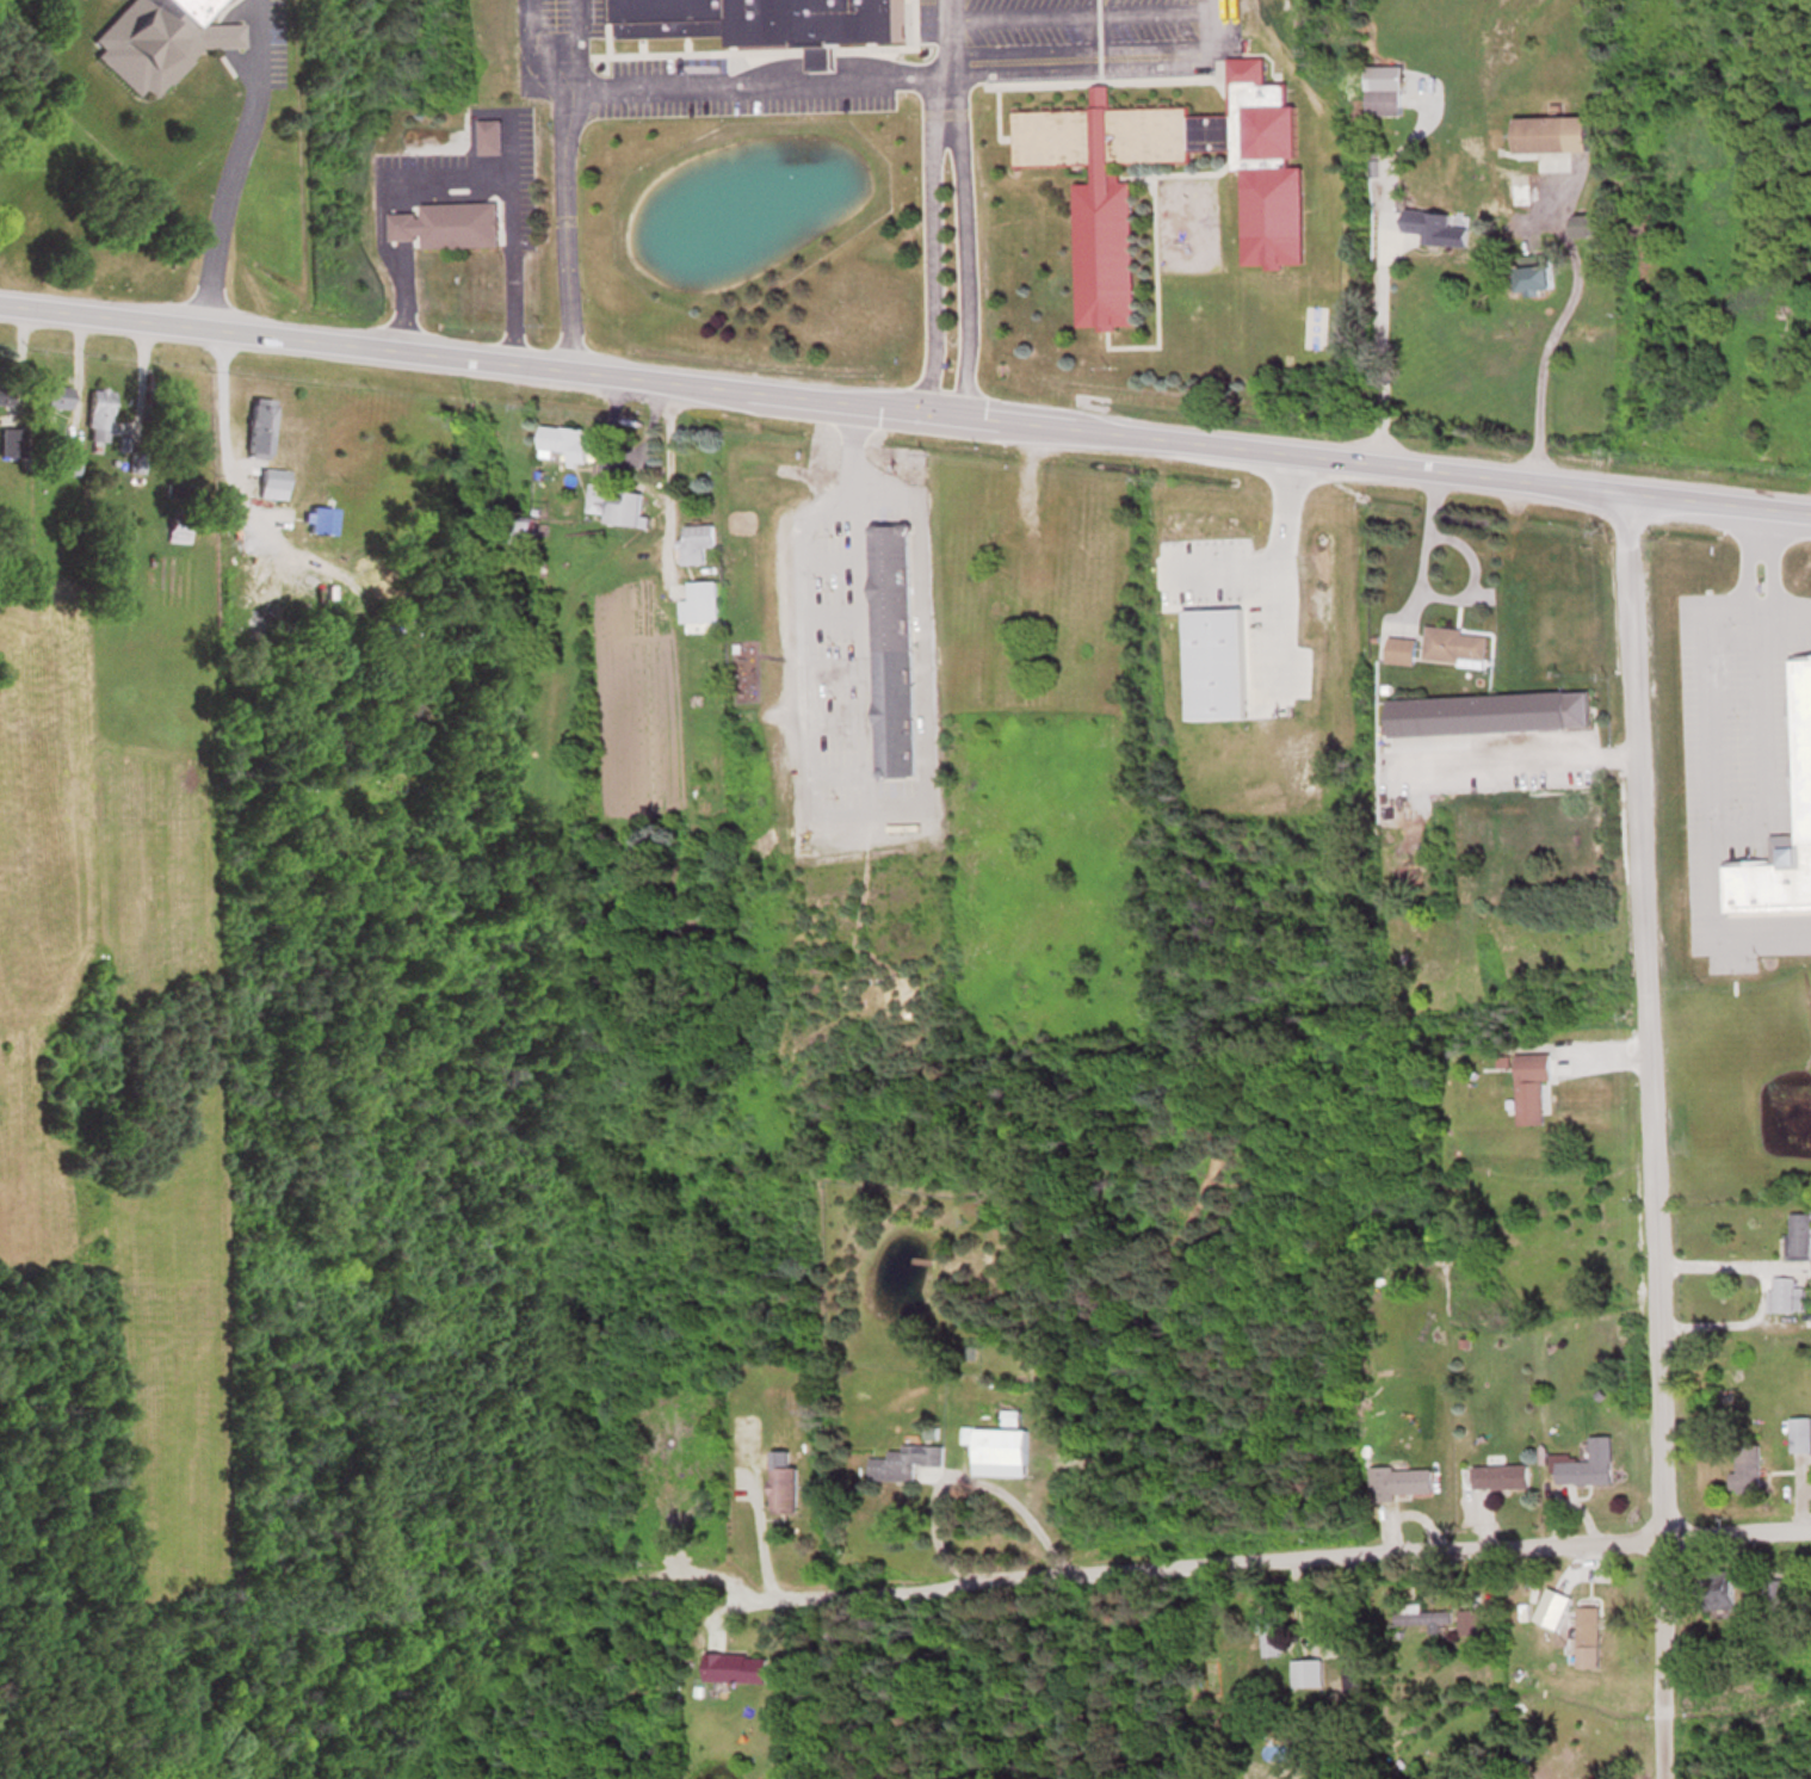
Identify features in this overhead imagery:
building: (767, 20)
building: (154, 39)
road: (1110, 57)
road: (944, 74)
road: (650, 81)
road: (552, 82)
building: (1380, 89)
building: (488, 136)
road: (236, 163)
road: (450, 175)
building: (1271, 223)
building: (446, 224)
building: (1424, 224)
building: (1583, 224)
building: (1532, 278)
road: (1380, 351)
road: (1541, 363)
building: (2, 394)
building: (52, 396)
road: (905, 408)
building: (95, 414)
building: (254, 425)
road: (218, 428)
building: (563, 440)
building: (264, 482)
road: (669, 486)
building: (616, 504)
building: (1050, 517)
building: (315, 519)
building: (736, 521)
building: (517, 530)
building: (1005, 539)
building: (694, 542)
road: (1417, 550)
road: (1274, 573)
road: (1465, 580)
road: (1745, 594)
building: (701, 600)
building: (1452, 645)
building: (1398, 649)
building: (890, 711)
building: (1485, 712)
building: (1800, 745)
road: (1516, 755)
road: (1706, 771)
road: (834, 833)
building: (633, 958)
building: (1531, 1086)
road: (1646, 1134)
building: (1798, 1235)
building: (1784, 1295)
building: (1799, 1433)
building: (995, 1445)
building: (903, 1460)
building: (1589, 1463)
building: (1744, 1468)
building: (1498, 1475)
building: (1398, 1481)
building: (781, 1487)
road: (1020, 1517)
road: (734, 1550)
road: (1298, 1562)
building: (1713, 1588)
building: (1778, 1593)
building: (1420, 1614)
building: (1267, 1631)
building: (1583, 1635)
building: (734, 1666)
building: (1309, 1667)
building: (1352, 1676)

